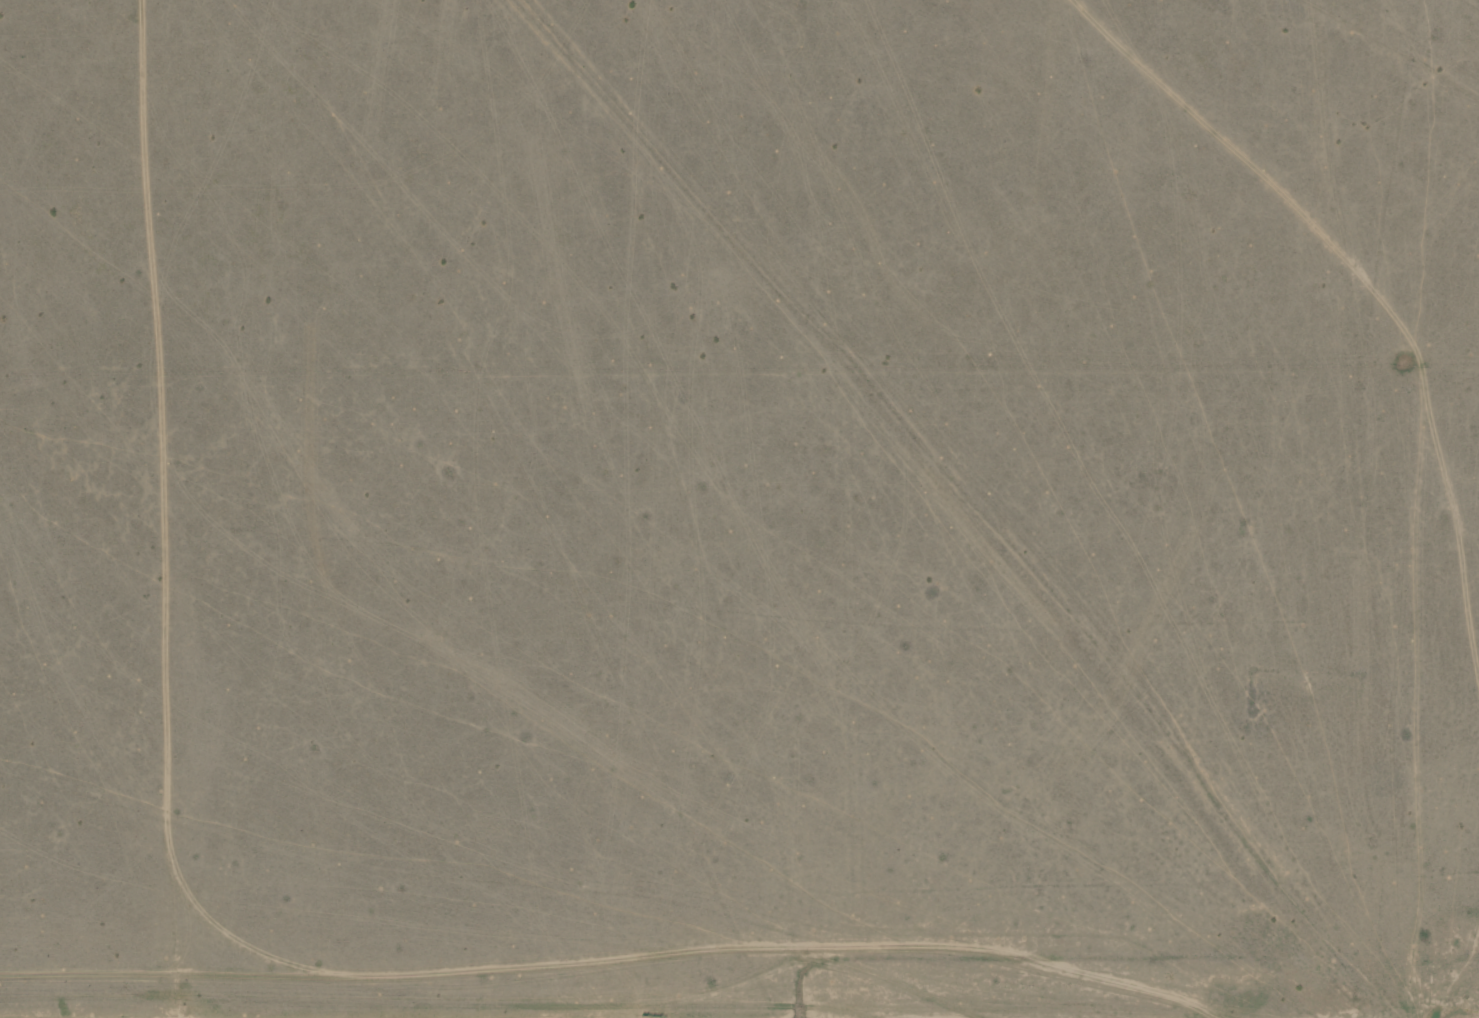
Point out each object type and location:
road: (1245, 173)
road: (1181, 592)

